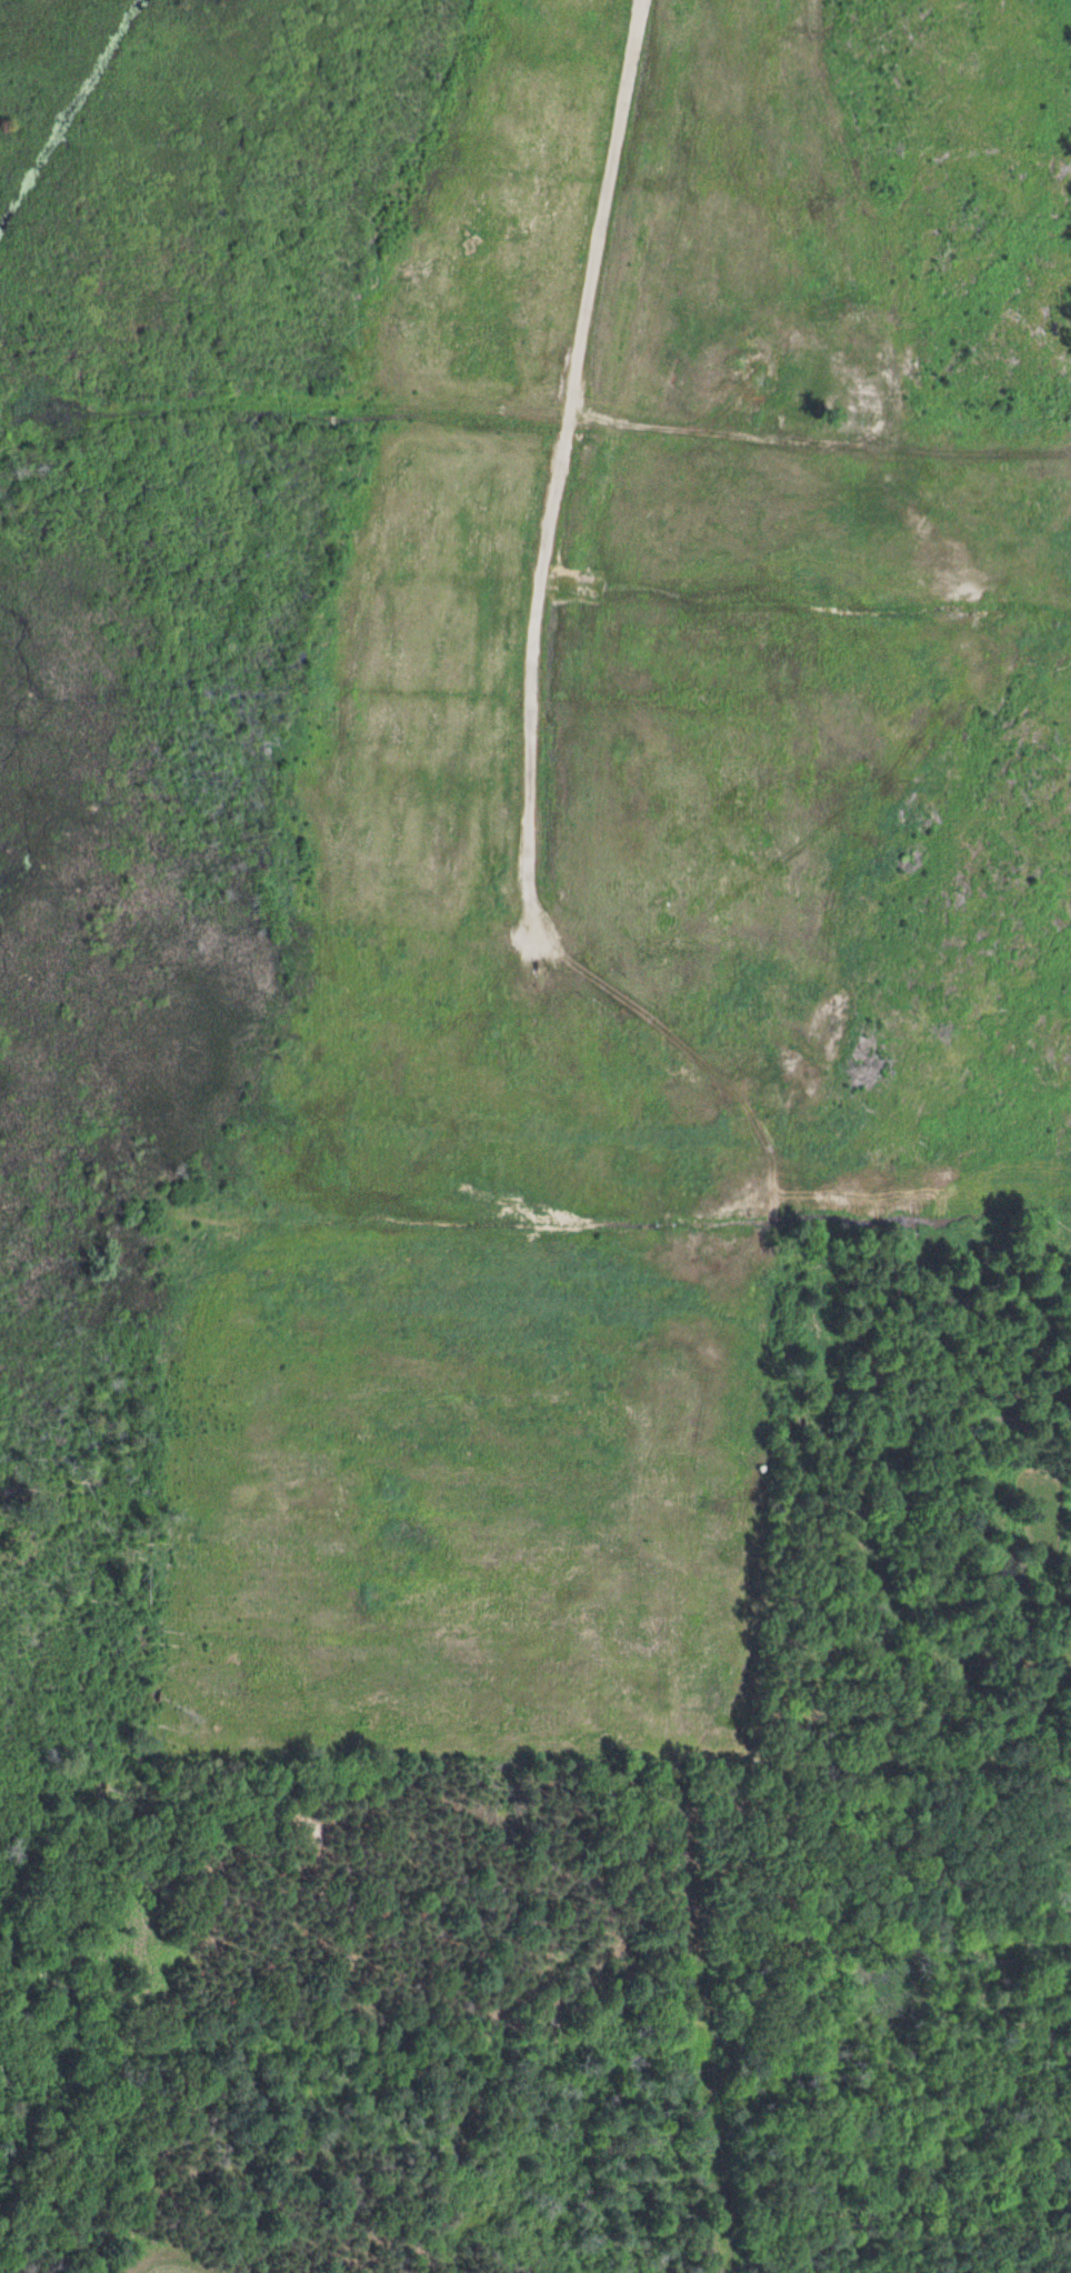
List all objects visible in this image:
road: (558, 474)
road: (920, 1783)

